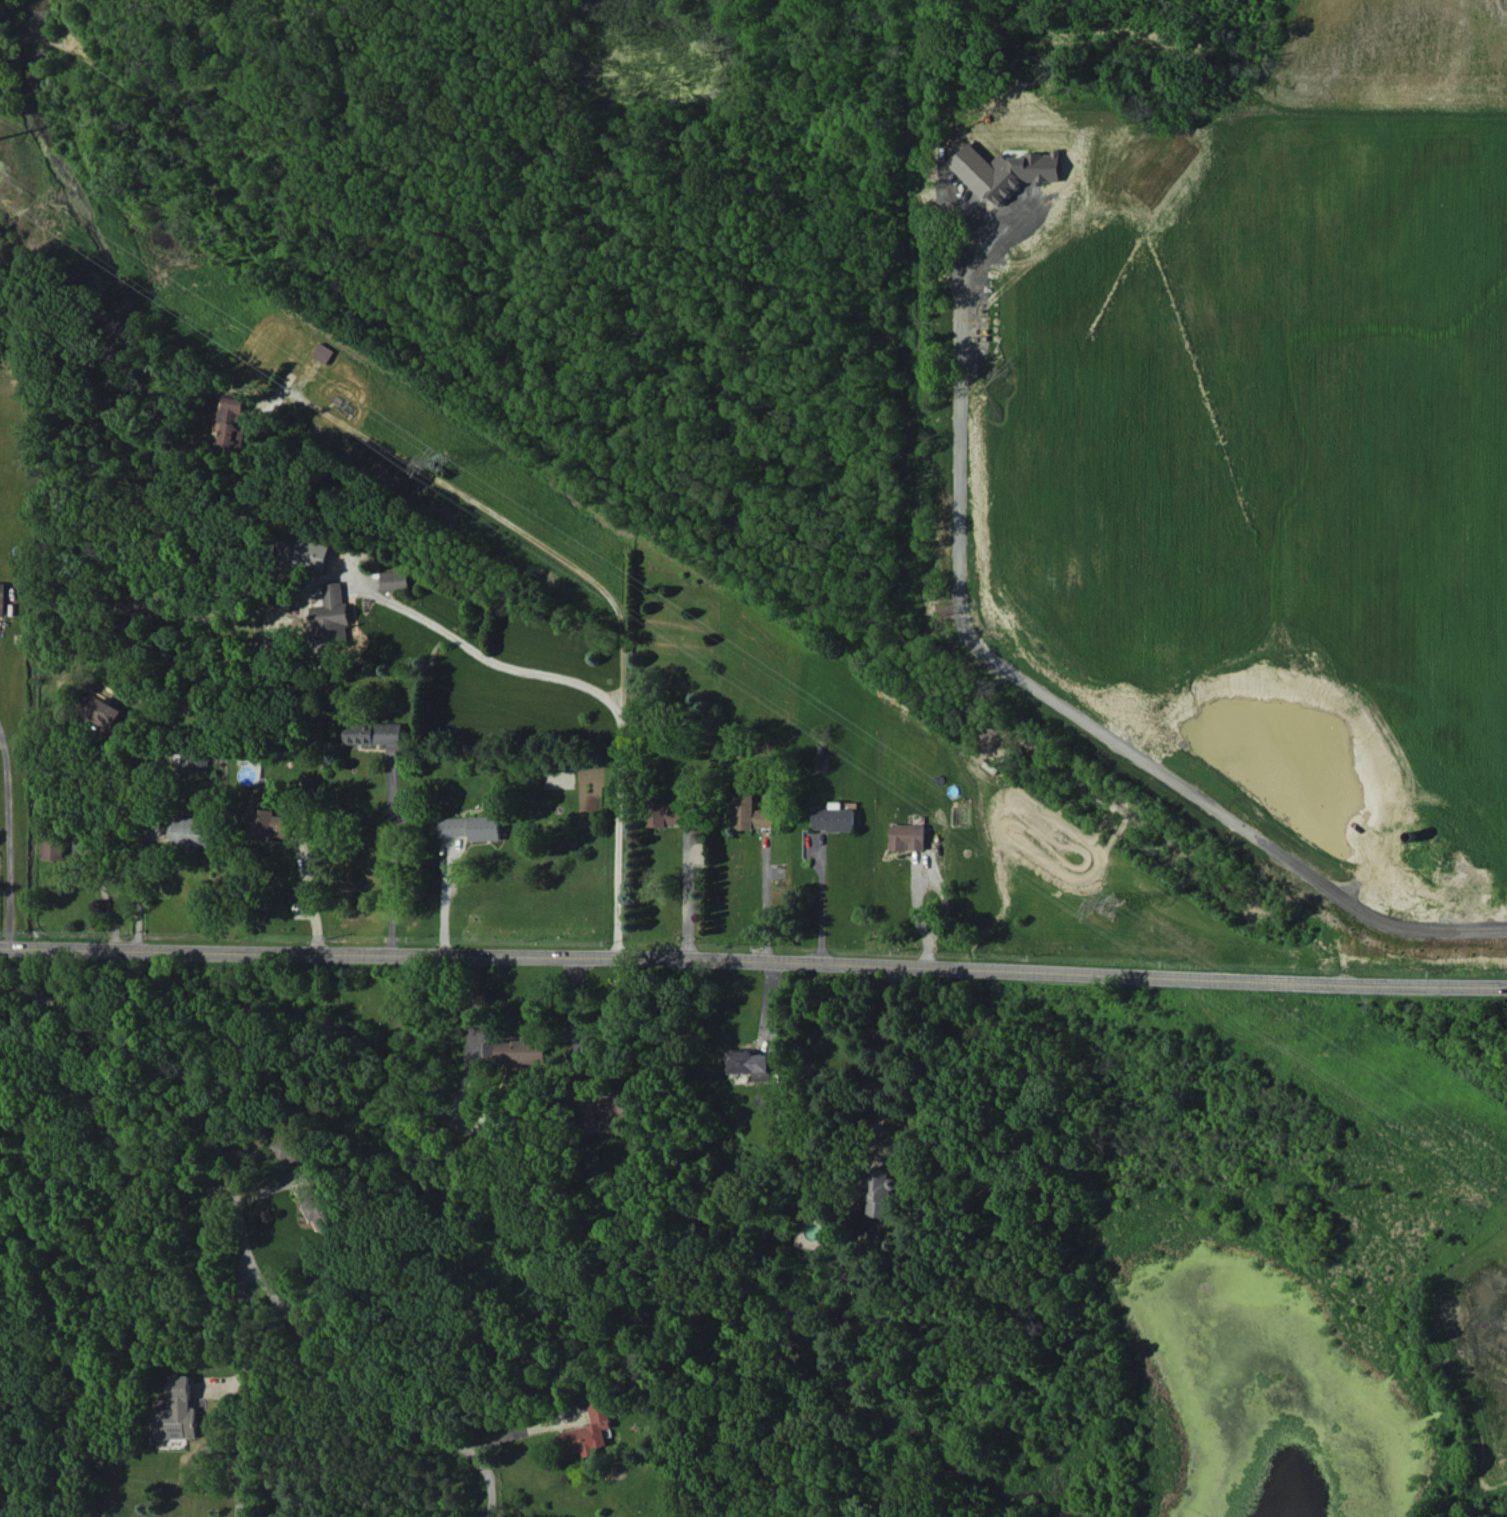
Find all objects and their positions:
building: (1006, 171)
building: (235, 421)
power tower: (454, 450)
building: (308, 551)
building: (395, 580)
road: (606, 592)
building: (3, 598)
building: (332, 615)
road: (479, 654)
road: (1045, 697)
building: (103, 714)
building: (374, 733)
building: (201, 757)
building: (752, 813)
building: (666, 814)
building: (835, 818)
building: (271, 820)
building: (472, 827)
building: (196, 831)
road: (10, 834)
building: (908, 837)
road: (393, 851)
road: (133, 858)
road: (935, 877)
road: (104, 890)
road: (686, 895)
power tower: (1105, 896)
road: (312, 898)
road: (765, 899)
road: (821, 899)
road: (753, 960)
road: (469, 1005)
building: (490, 1050)
building: (522, 1050)
road: (885, 1061)
building: (752, 1064)
road: (180, 1074)
building: (605, 1108)
building: (288, 1149)
building: (882, 1194)
building: (315, 1204)
road: (245, 1391)
road: (365, 1403)
building: (177, 1412)
road: (512, 1430)
building: (588, 1431)

